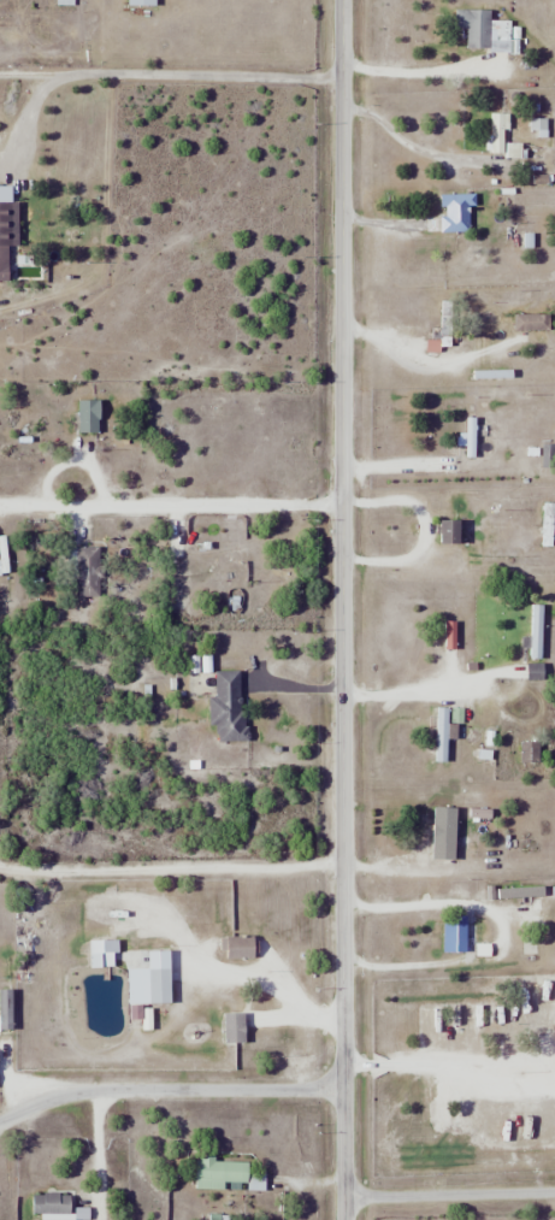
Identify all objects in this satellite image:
building: (142, 2)
building: (476, 26)
road: (419, 65)
building: (500, 134)
road: (412, 142)
building: (455, 213)
building: (7, 235)
building: (532, 322)
building: (89, 417)
building: (472, 437)
building: (548, 455)
building: (451, 532)
building: (217, 555)
building: (88, 572)
road: (342, 609)
building: (536, 636)
building: (450, 637)
building: (535, 672)
building: (229, 707)
building: (442, 735)
building: (438, 839)
road: (171, 868)
building: (455, 936)
building: (242, 948)
building: (105, 951)
building: (6, 1010)
building: (513, 1022)
road: (169, 1090)
building: (222, 1172)
road: (449, 1195)
building: (51, 1203)

